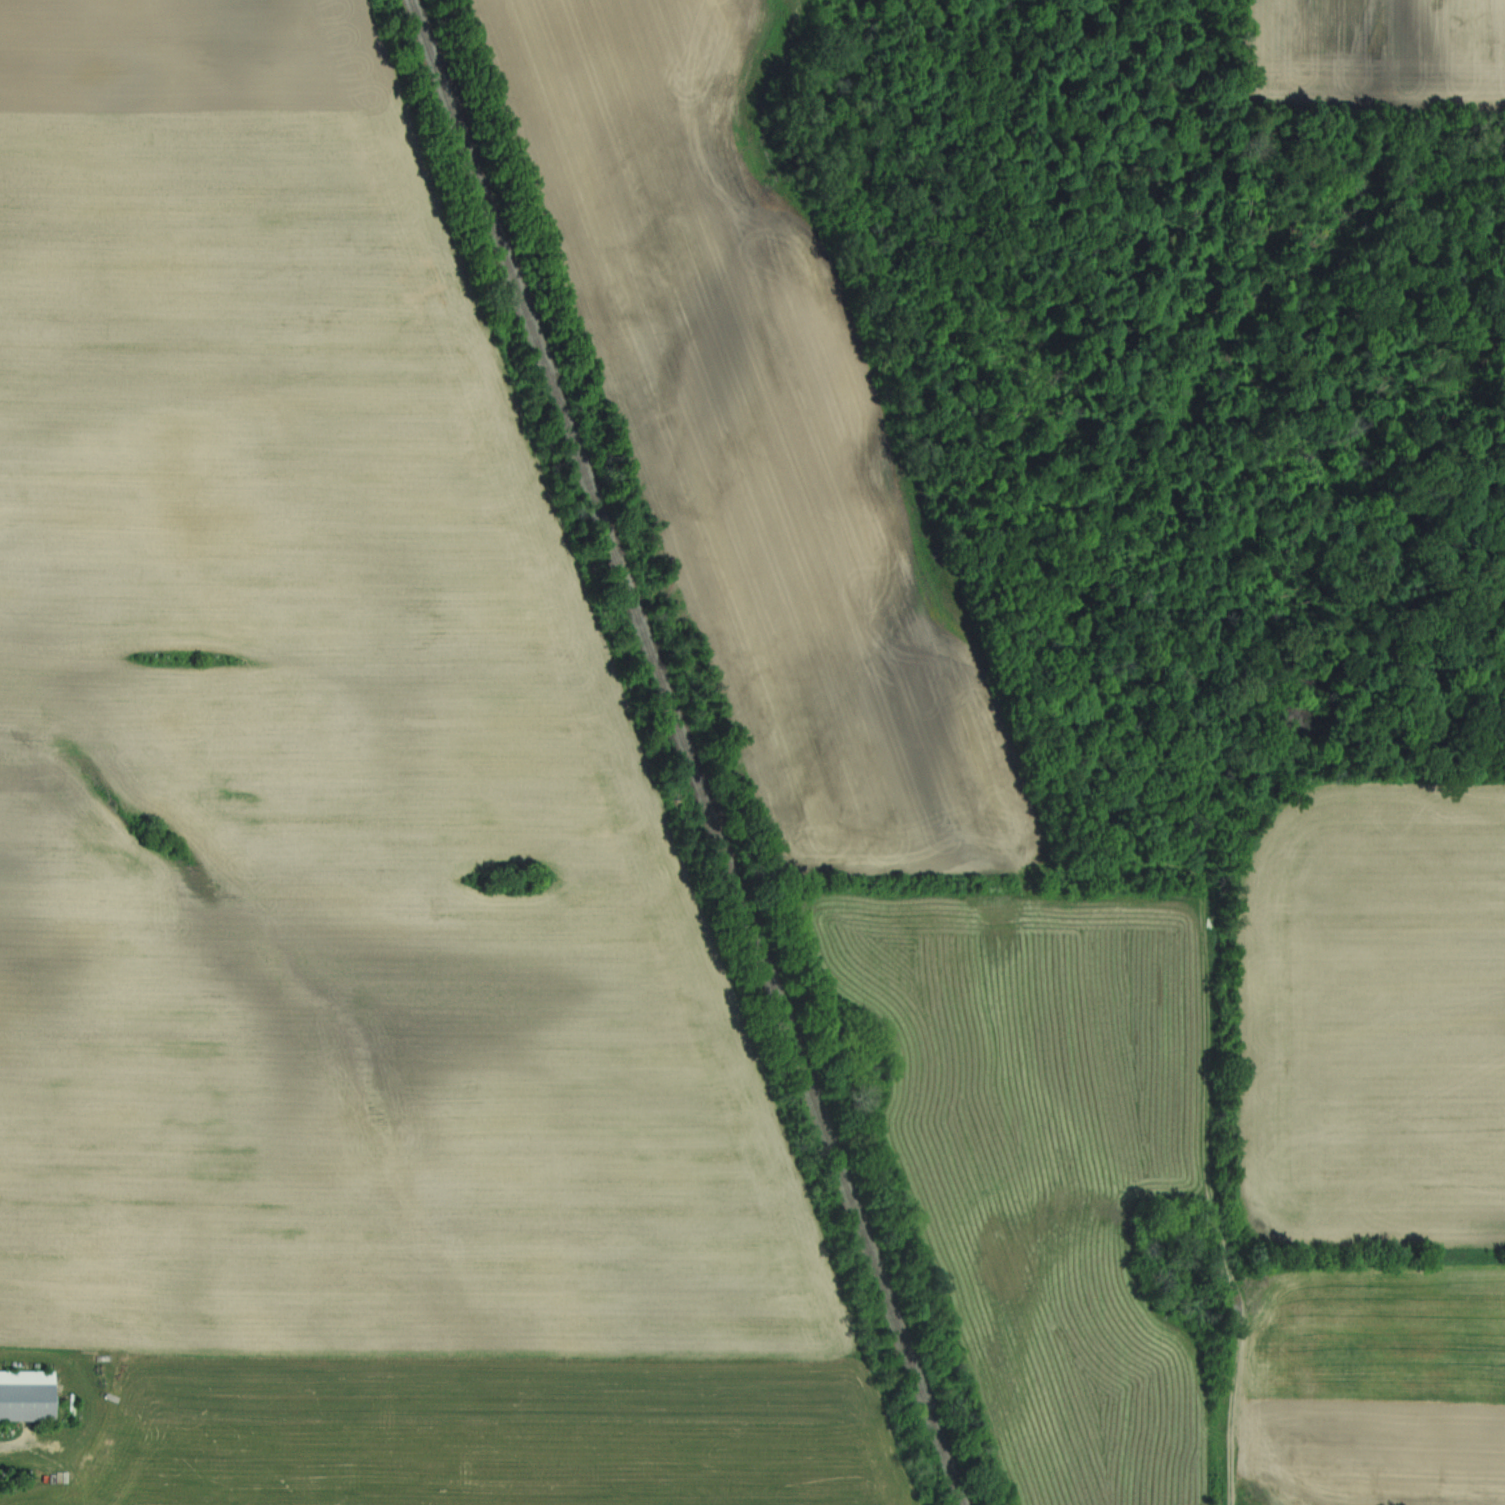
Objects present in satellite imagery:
railway: (689, 752)
road: (1234, 1365)
building: (28, 1394)
road: (27, 1447)

